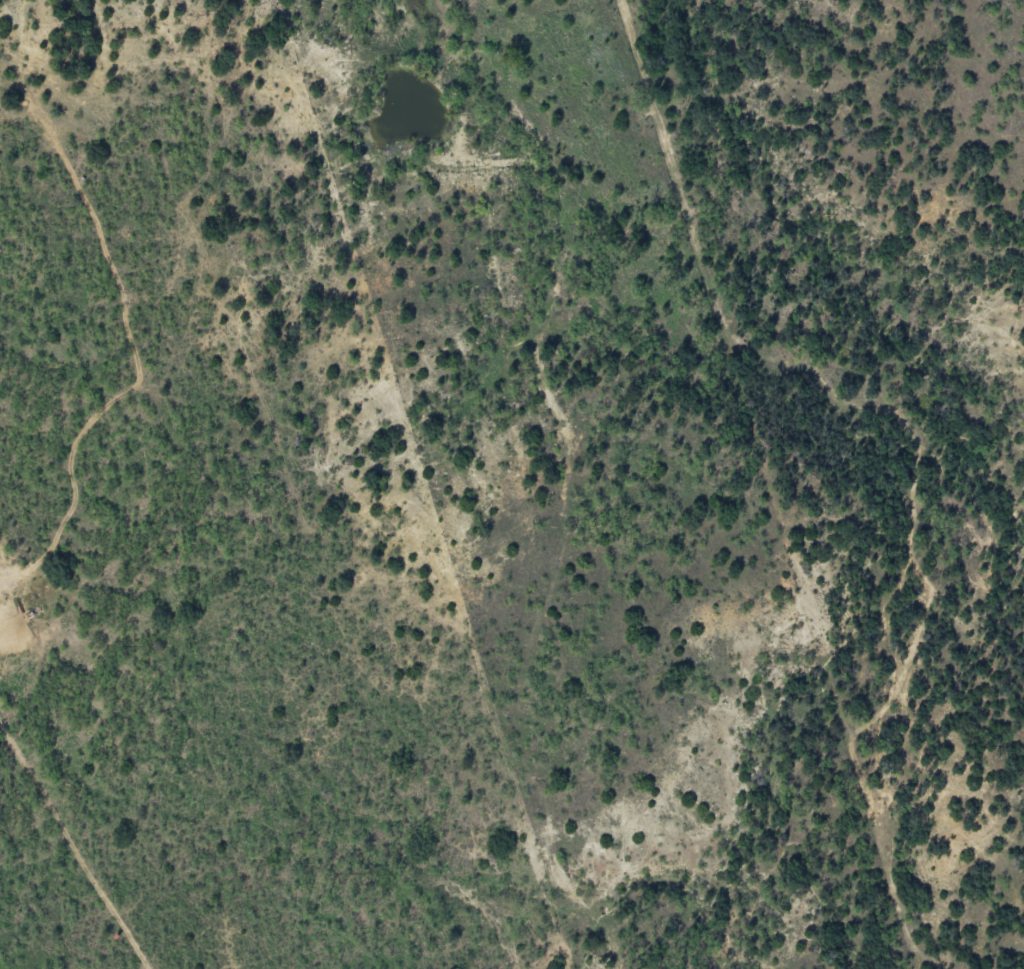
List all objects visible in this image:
road: (576, 484)

